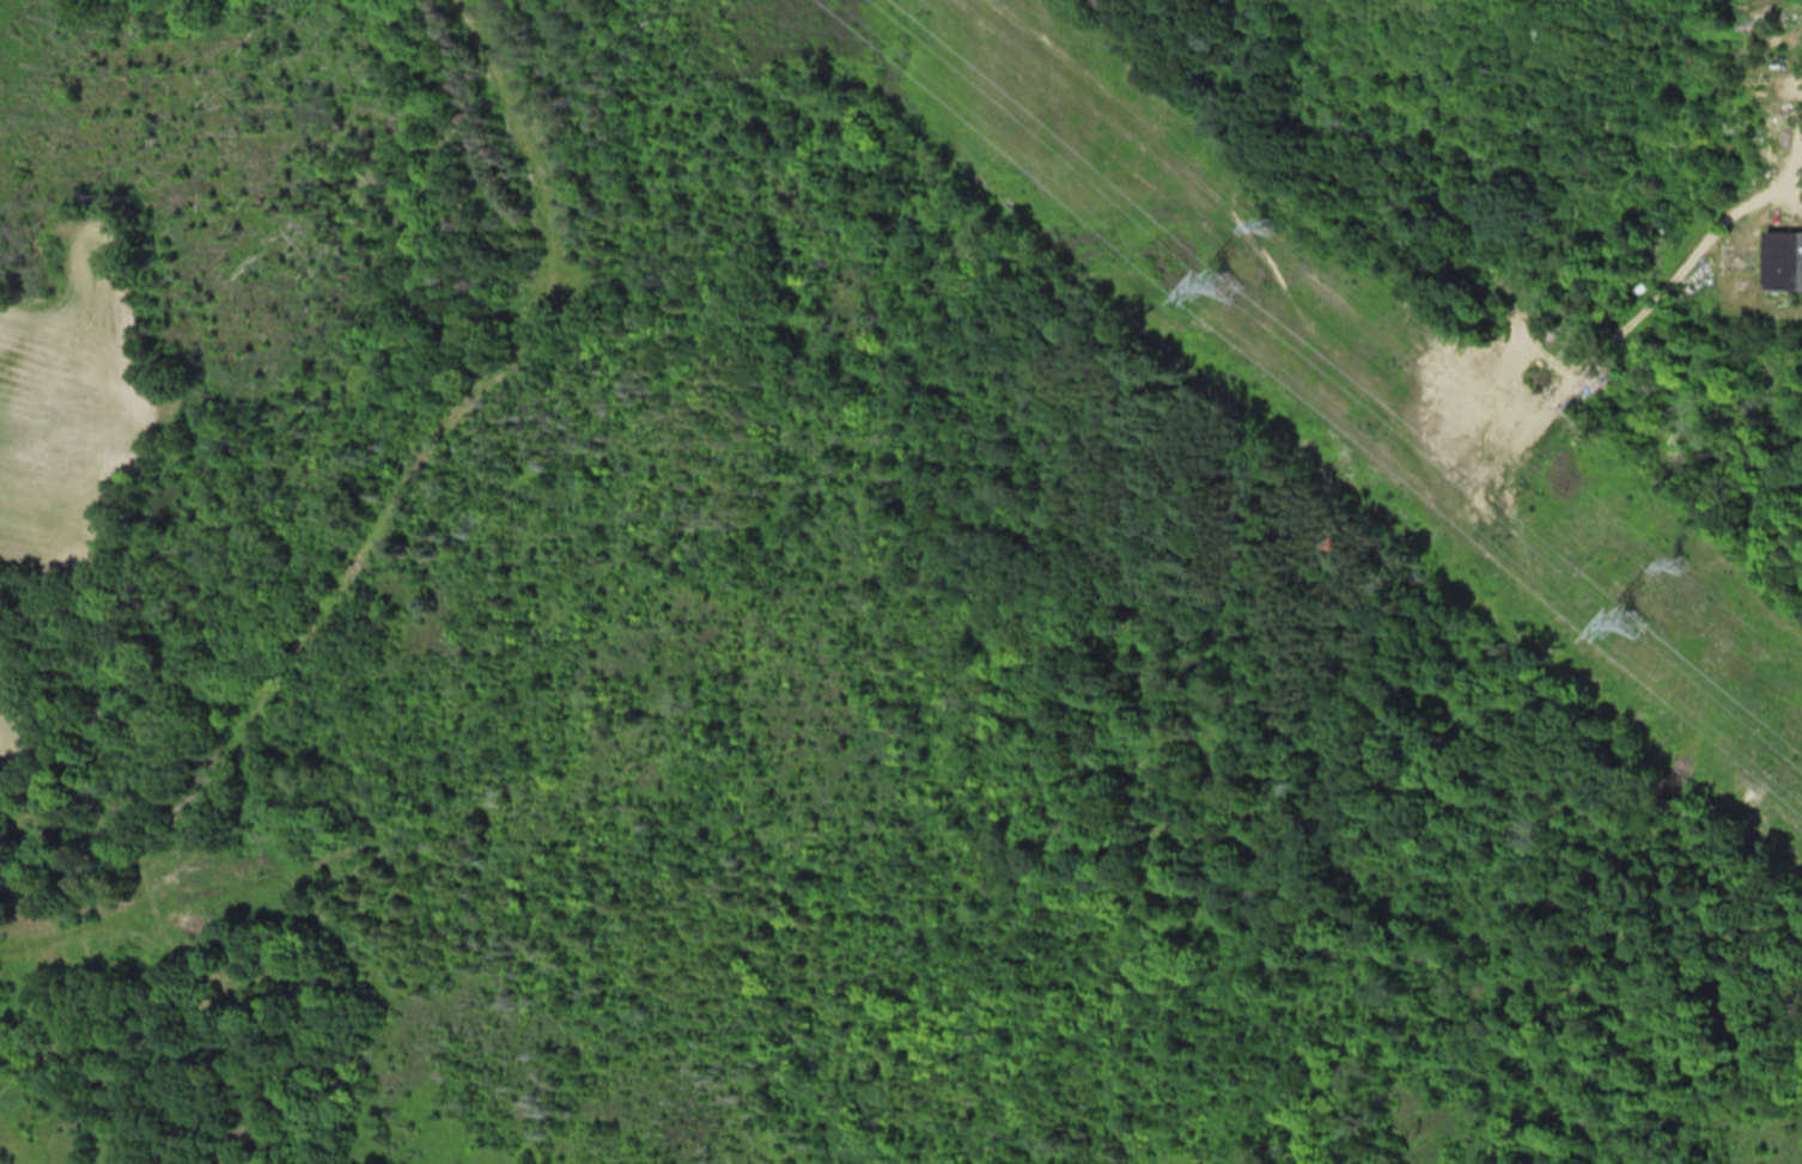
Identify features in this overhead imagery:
power tower: (1271, 224)
building: (1785, 258)
road: (1691, 268)
power tower: (1226, 281)
power tower: (1685, 561)
power tower: (1632, 620)

